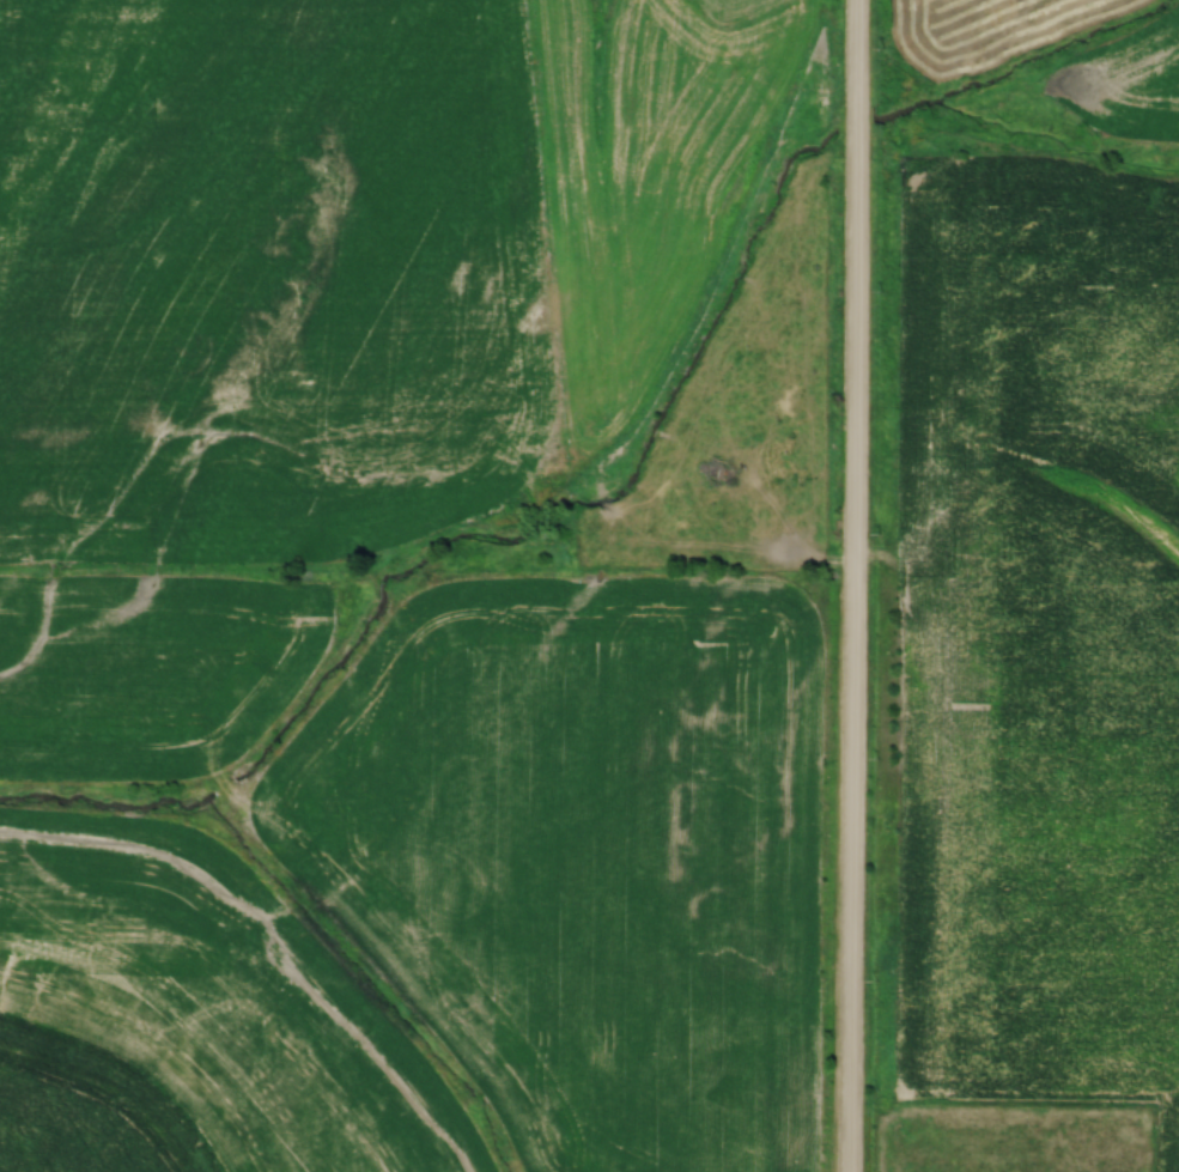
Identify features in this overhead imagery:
road: (850, 585)

